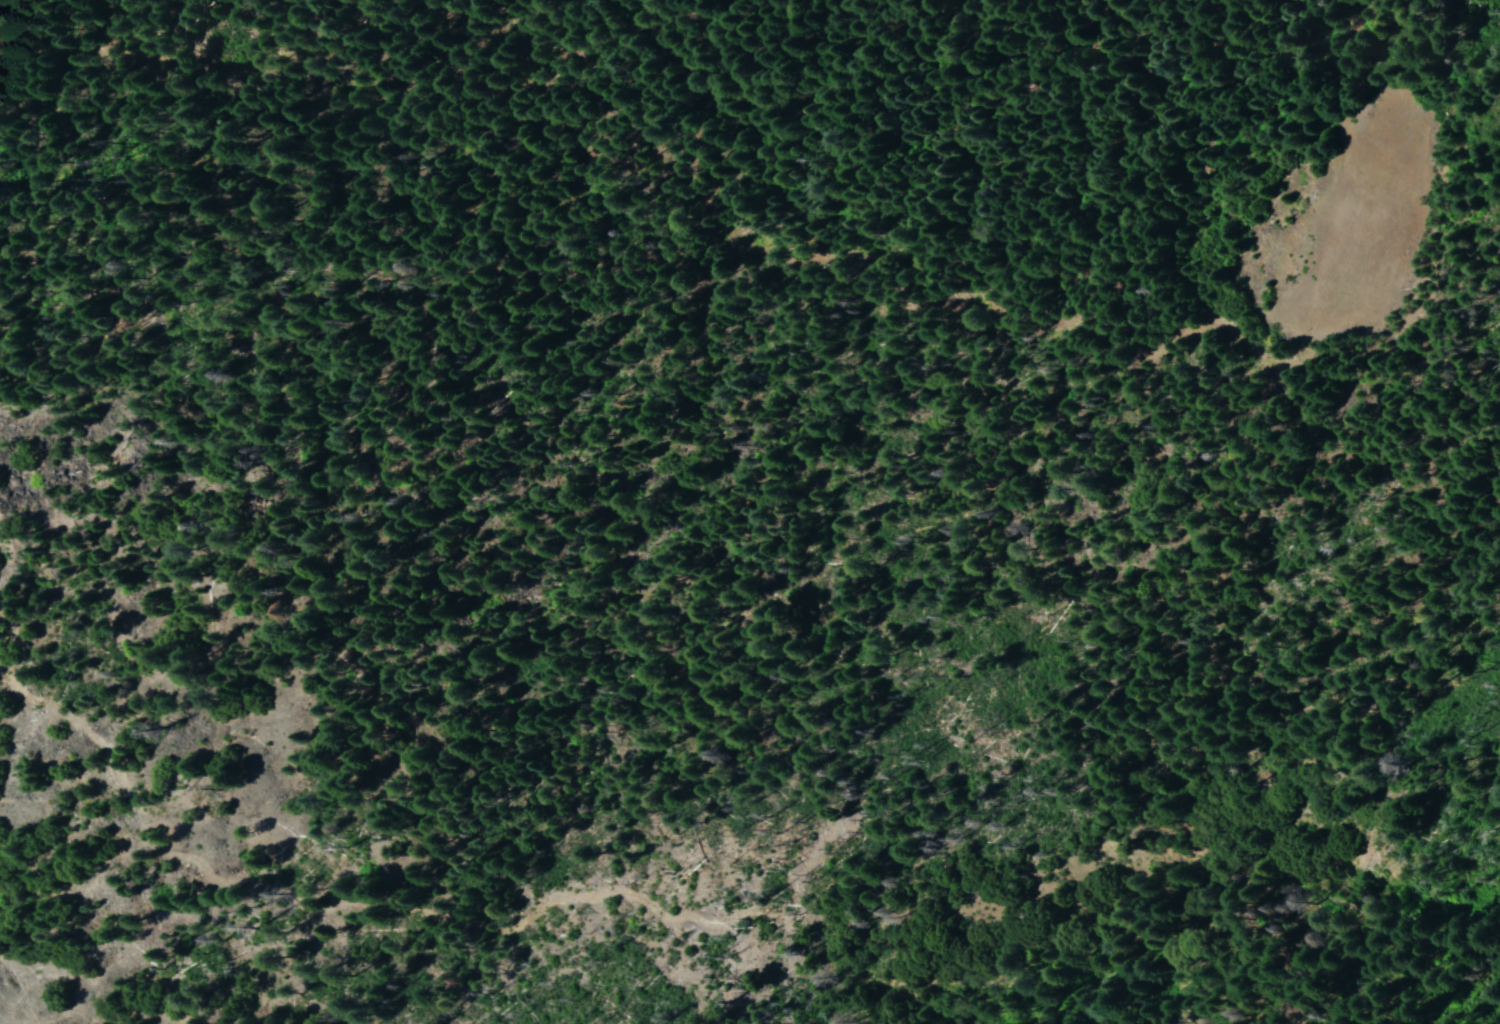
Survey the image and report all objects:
road: (1342, 143)

